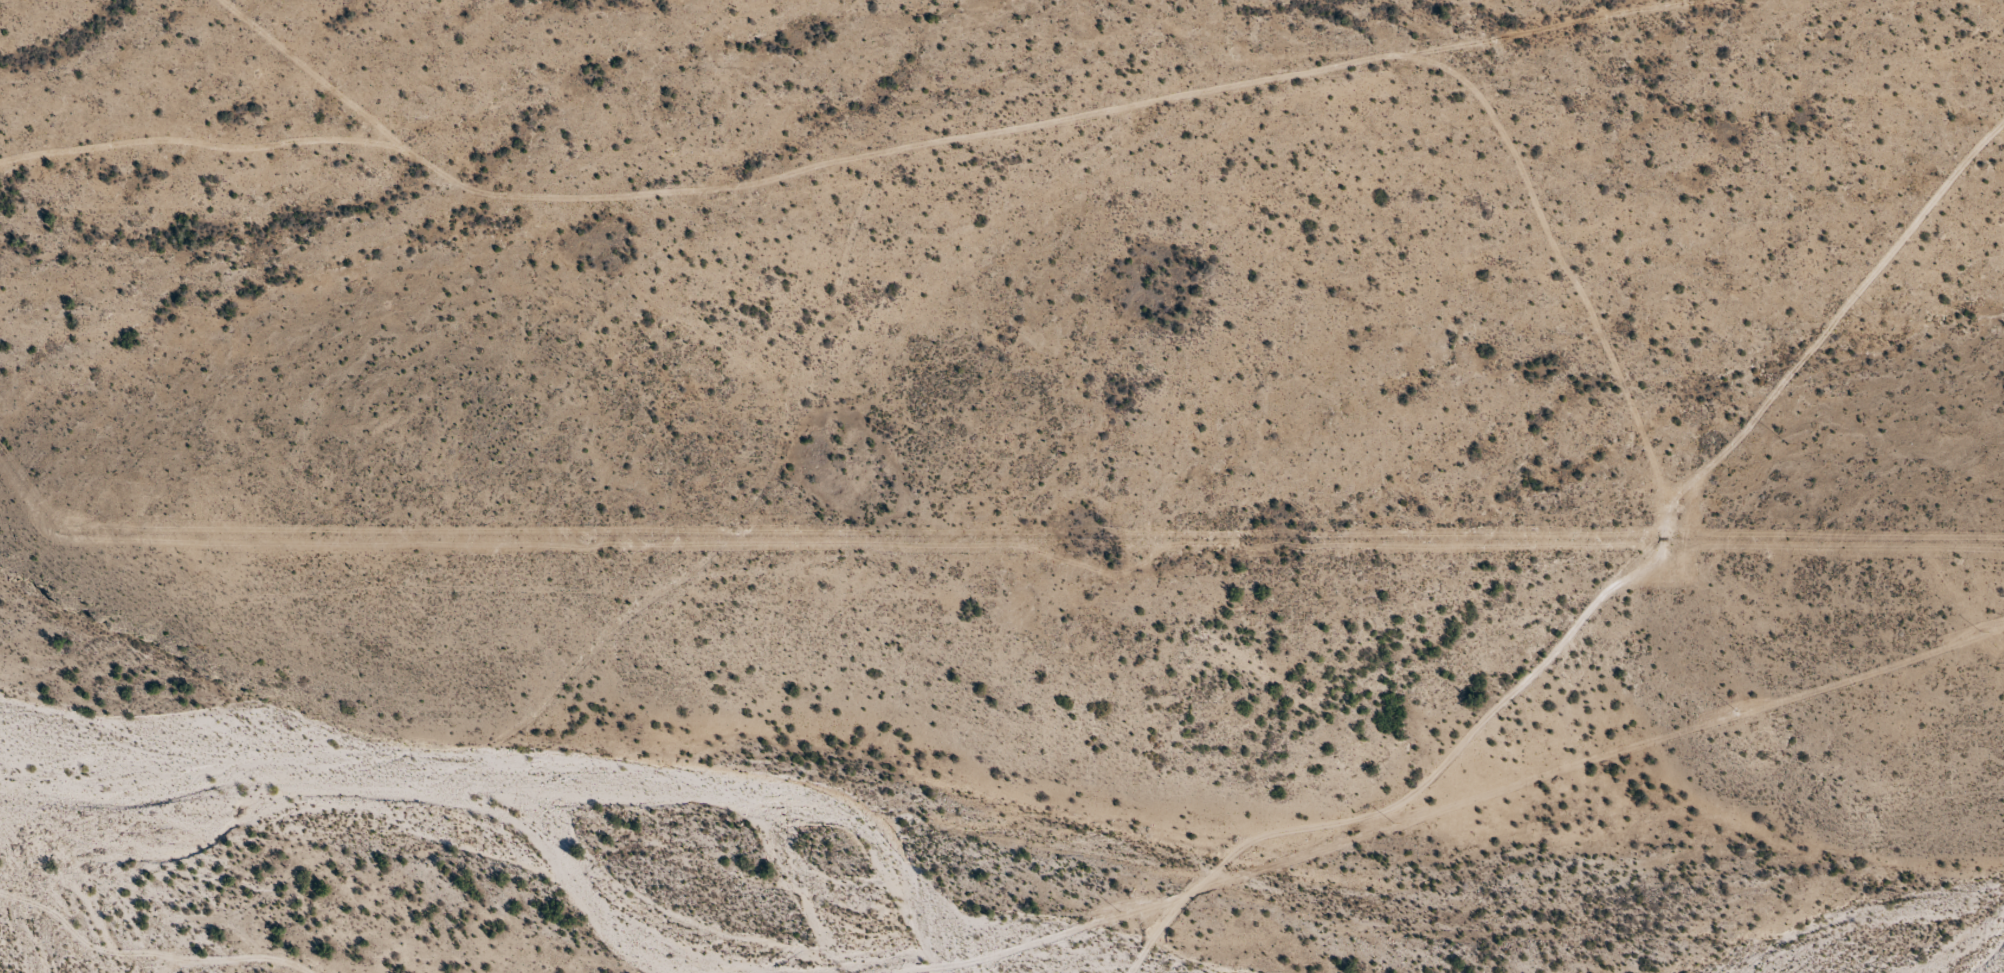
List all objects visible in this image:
road: (280, 51)
road: (419, 144)
road: (845, 260)

